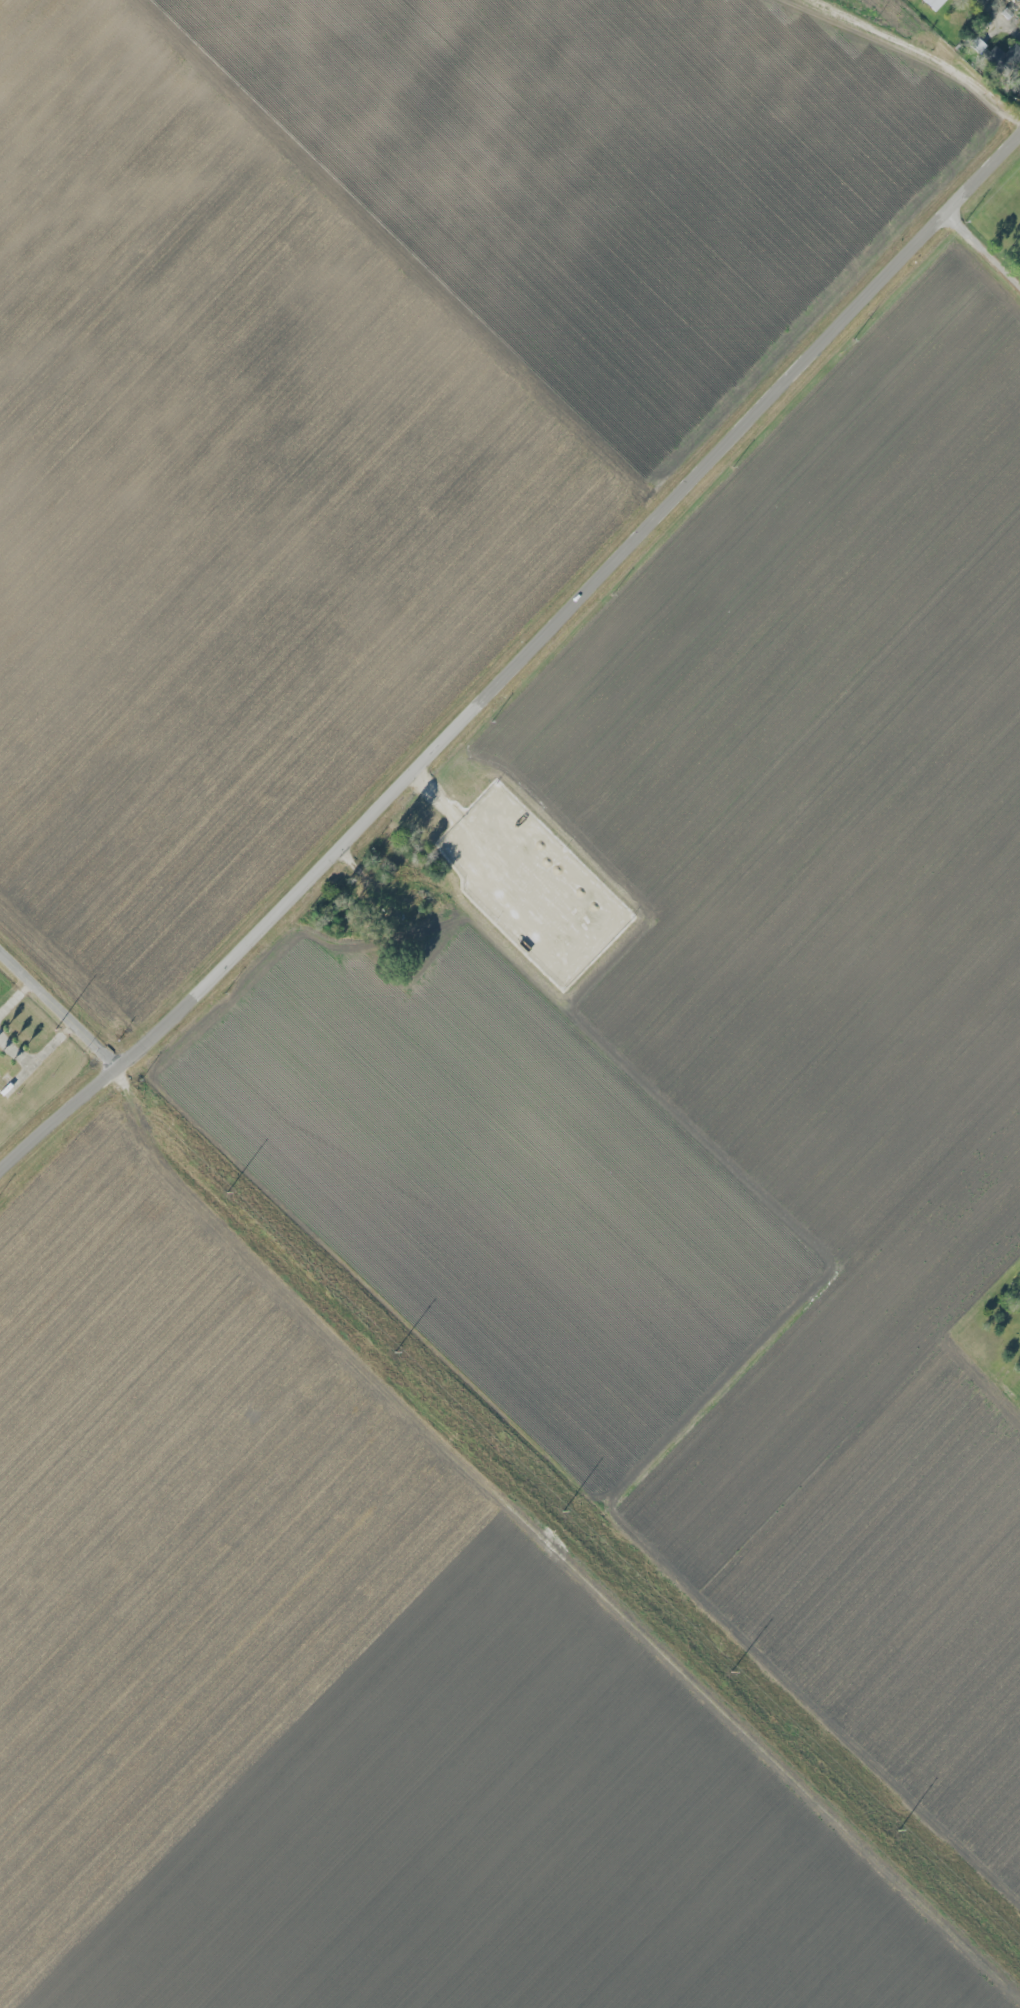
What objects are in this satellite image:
building: (934, 3)
building: (977, 44)
road: (921, 54)
building: (1003, 57)
road: (987, 237)
road: (519, 661)
road: (15, 995)
road: (55, 1007)
road: (38, 1056)
building: (2, 1077)

